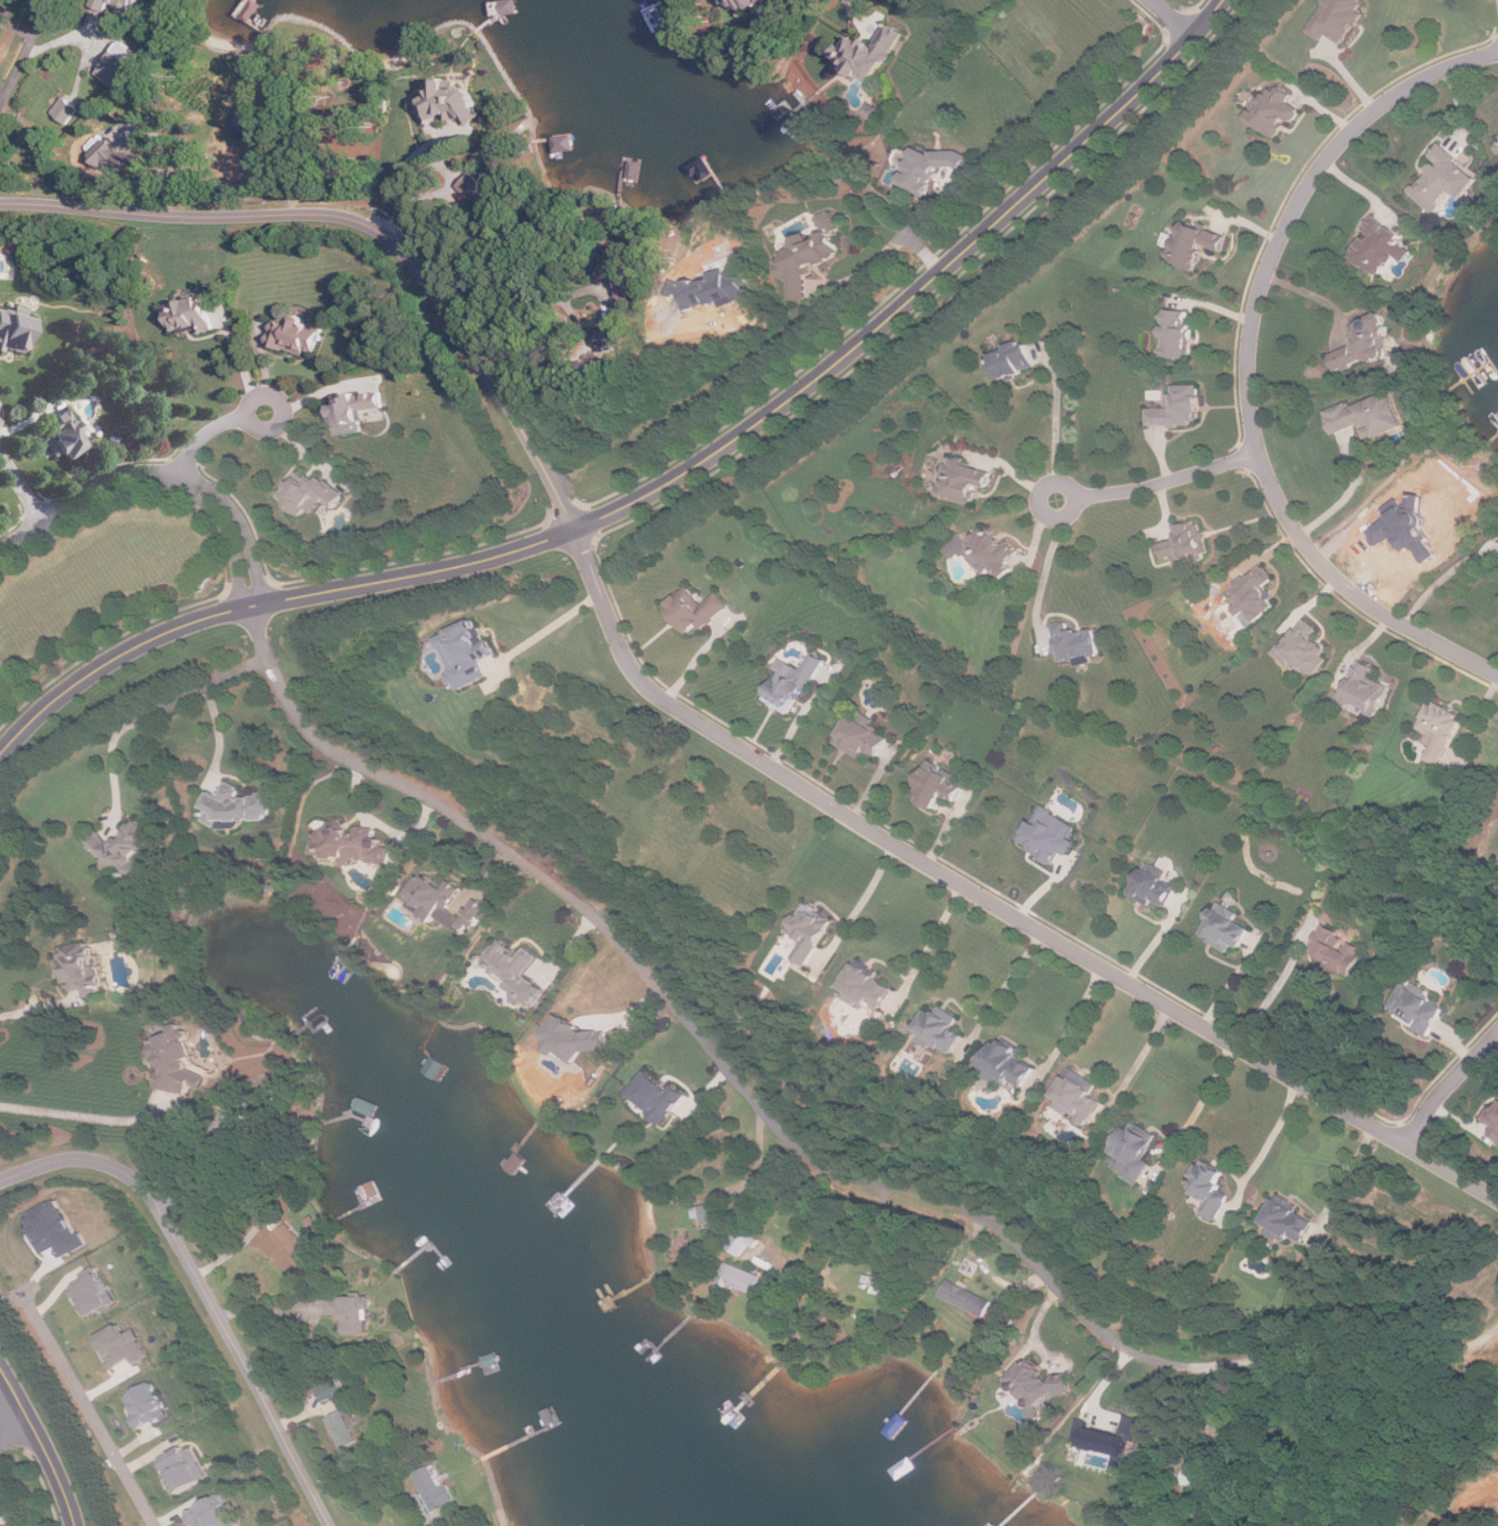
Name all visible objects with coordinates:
building: (746, 2)
building: (118, 4)
road: (855, 10)
road: (1175, 17)
building: (1336, 19)
building: (871, 51)
building: (120, 63)
road: (20, 74)
building: (449, 101)
building: (65, 109)
building: (1276, 109)
building: (111, 157)
building: (929, 166)
road: (406, 175)
building: (1446, 178)
road: (331, 208)
building: (1199, 243)
building: (1383, 245)
road: (885, 249)
building: (812, 252)
building: (620, 266)
road: (921, 290)
road: (1311, 294)
road: (527, 312)
building: (191, 314)
building: (13, 330)
building: (1179, 332)
building: (297, 334)
building: (1369, 343)
road: (239, 359)
building: (1015, 359)
road: (1248, 364)
building: (1180, 406)
building: (353, 409)
road: (1058, 415)
building: (1369, 415)
road: (209, 426)
building: (64, 434)
road: (160, 472)
building: (965, 480)
road: (1170, 481)
road: (23, 485)
road: (561, 491)
building: (308, 492)
road: (1077, 497)
road: (1345, 498)
building: (1187, 542)
building: (987, 550)
road: (1444, 577)
road: (1044, 578)
building: (1256, 593)
road: (270, 603)
building: (696, 609)
road: (547, 627)
building: (1074, 641)
building: (1305, 648)
building: (466, 653)
building: (792, 683)
road: (161, 710)
building: (1438, 732)
road: (220, 737)
building: (862, 737)
building: (938, 783)
road: (406, 786)
building: (237, 807)
road: (385, 825)
building: (1050, 834)
building: (352, 844)
building: (122, 847)
building: (1156, 886)
road: (868, 890)
building: (444, 903)
road: (995, 903)
building: (1226, 927)
building: (810, 930)
road: (934, 936)
road: (1156, 941)
building: (1334, 951)
building: (83, 967)
building: (518, 971)
road: (1011, 981)
road: (1229, 984)
building: (867, 987)
road: (1273, 994)
road: (37, 1009)
building: (1415, 1011)
road: (1073, 1022)
building: (941, 1029)
building: (547, 1031)
building: (582, 1036)
road: (1142, 1056)
building: (1008, 1063)
building: (177, 1064)
road: (1449, 1084)
road: (1208, 1091)
building: (656, 1096)
building: (1078, 1100)
road: (88, 1116)
building: (1493, 1121)
road: (1273, 1134)
building: (1133, 1153)
road: (1347, 1175)
building: (1210, 1193)
building: (710, 1213)
building: (1282, 1223)
road: (817, 1233)
building: (291, 1240)
building: (744, 1241)
road: (1017, 1244)
building: (739, 1278)
road: (211, 1280)
building: (878, 1283)
building: (93, 1293)
building: (966, 1297)
building: (122, 1344)
building: (1043, 1380)
building: (332, 1388)
road: (9, 1403)
building: (147, 1404)
road: (89, 1409)
building: (342, 1428)
road: (18, 1438)
building: (1111, 1438)
road: (43, 1442)
building: (185, 1467)
building: (1199, 1469)
building: (433, 1488)
building: (213, 1513)
building: (4, 1524)

